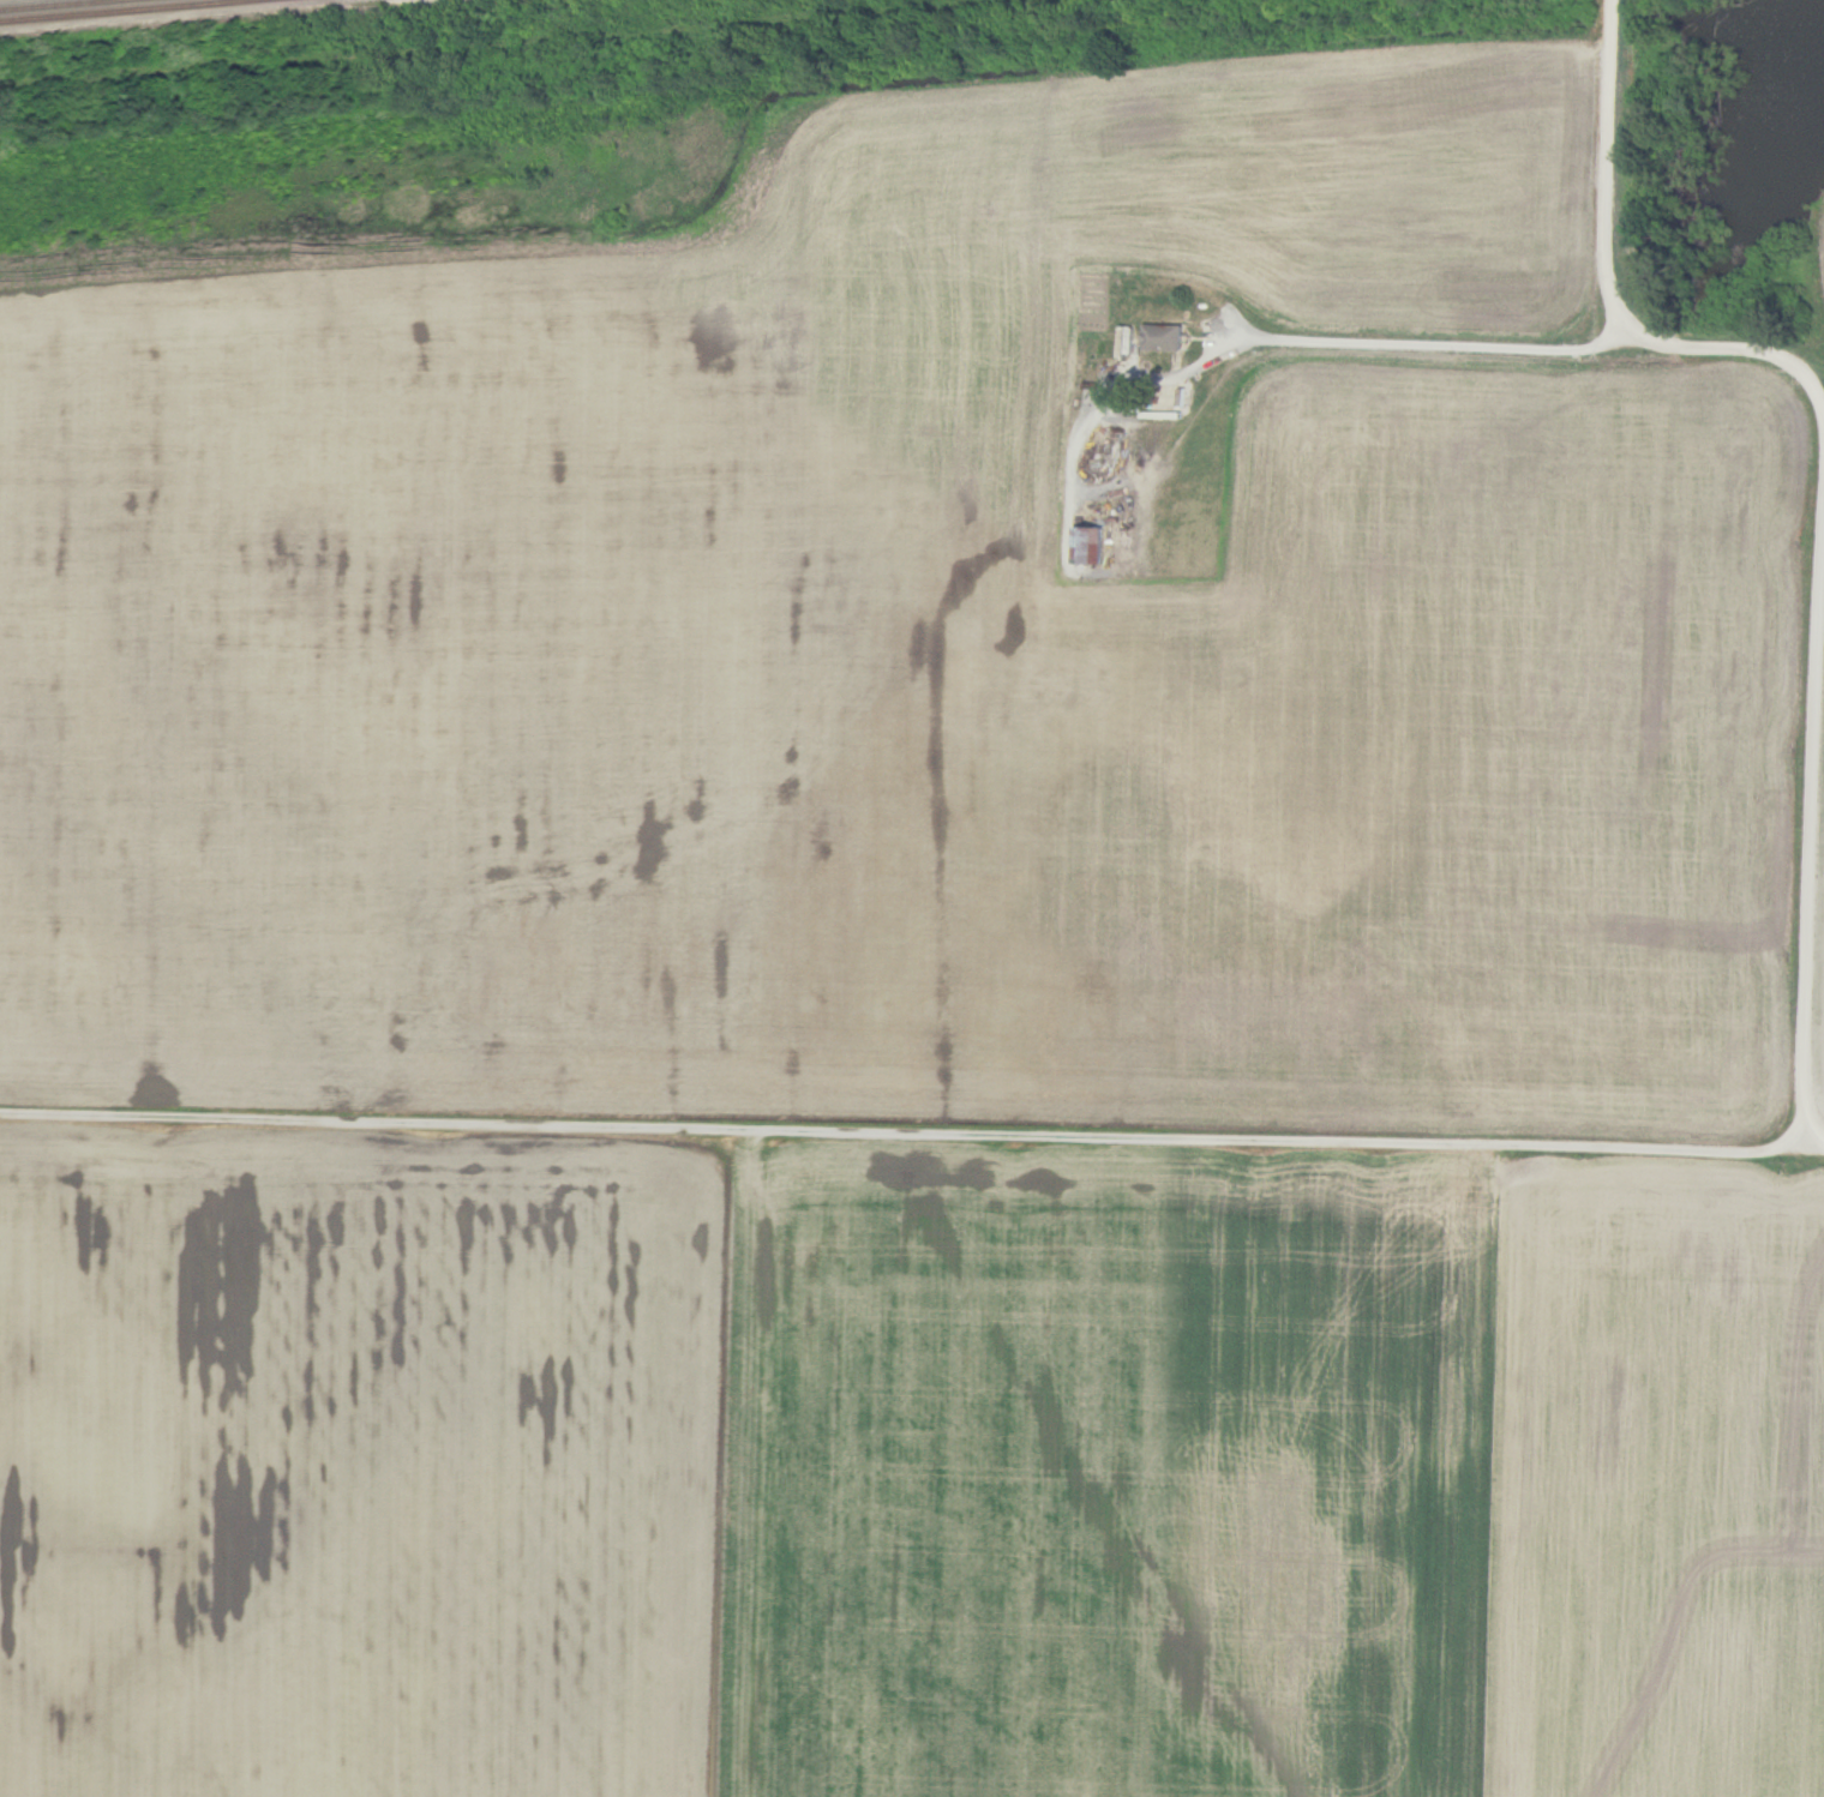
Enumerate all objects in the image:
railway: (53, 4)
railway: (118, 10)
building: (1154, 336)
road: (1417, 345)
road: (1087, 415)
road: (1819, 503)
road: (912, 1142)

